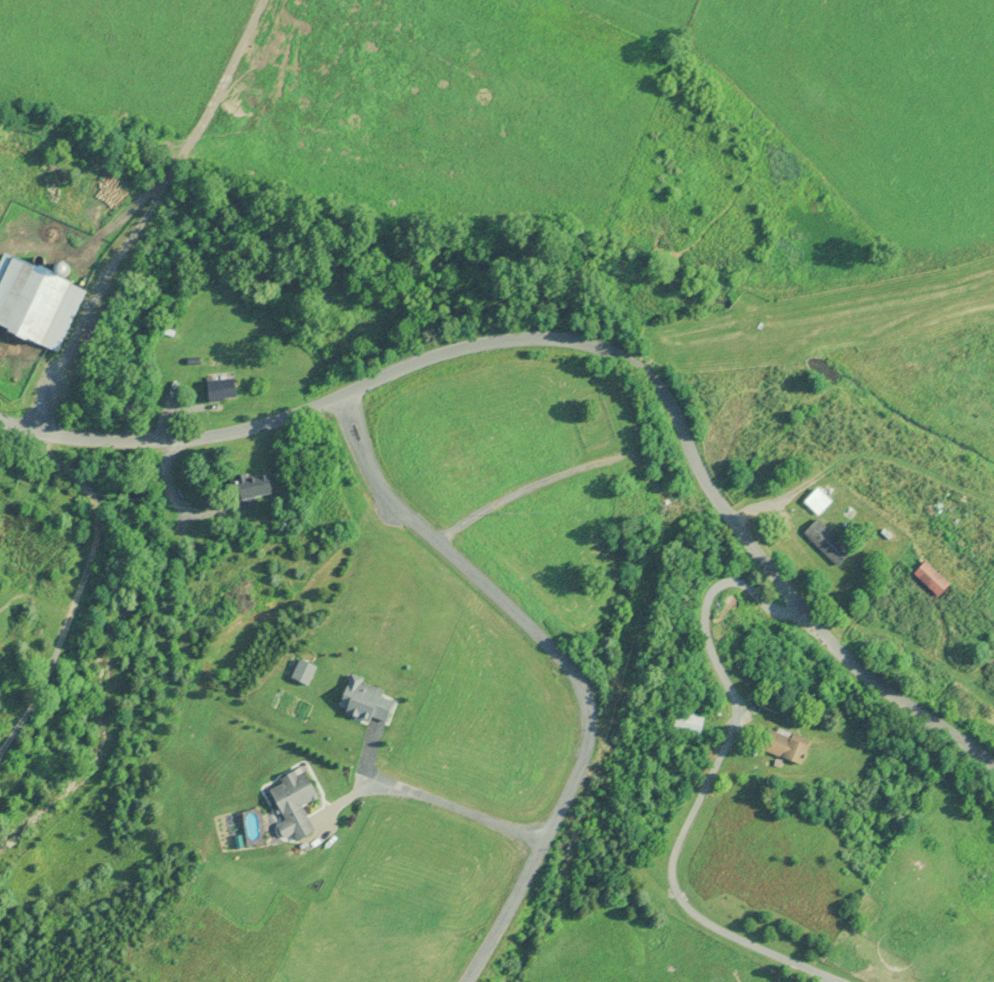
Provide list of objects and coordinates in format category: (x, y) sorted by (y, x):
building: (35, 304)
road: (584, 343)
building: (219, 389)
building: (252, 491)
building: (930, 578)
road: (75, 591)
road: (564, 670)
building: (364, 700)
building: (686, 724)
building: (784, 748)
road: (711, 780)
building: (291, 803)
road: (454, 809)

